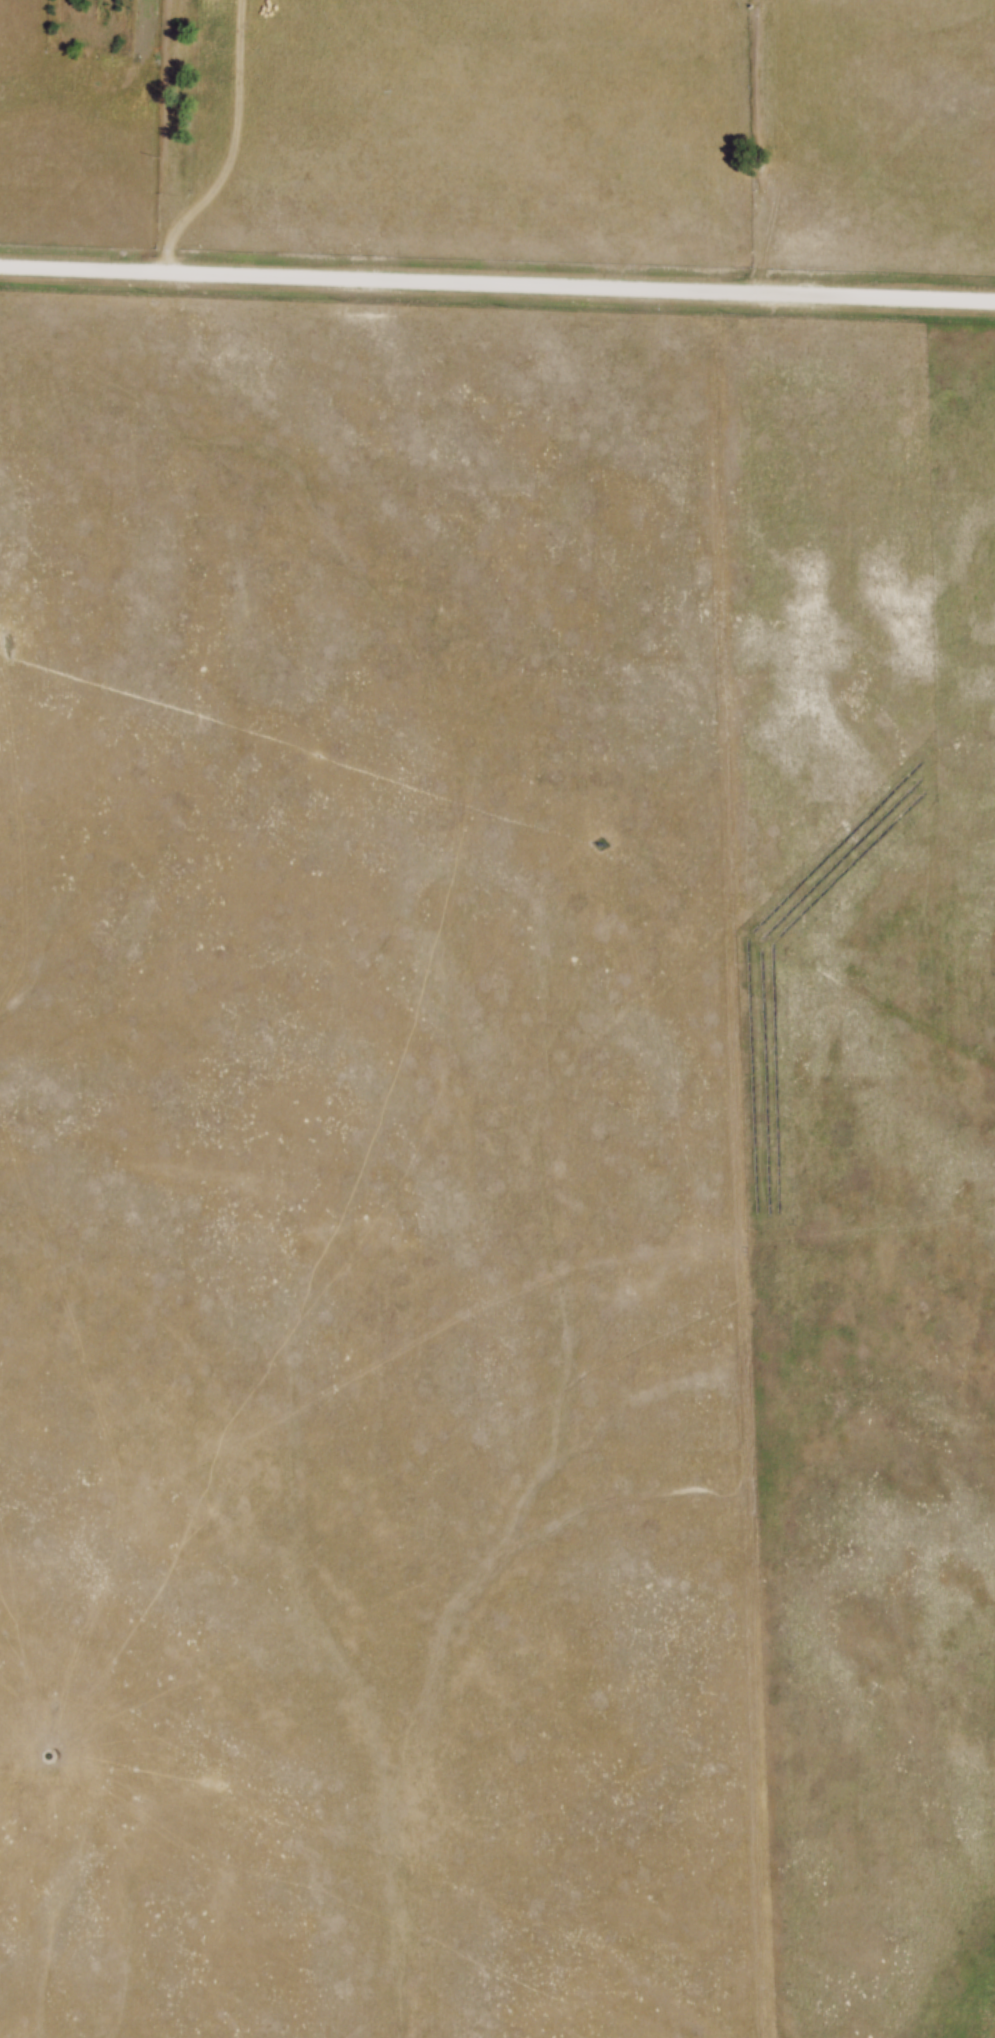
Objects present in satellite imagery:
road: (497, 281)

